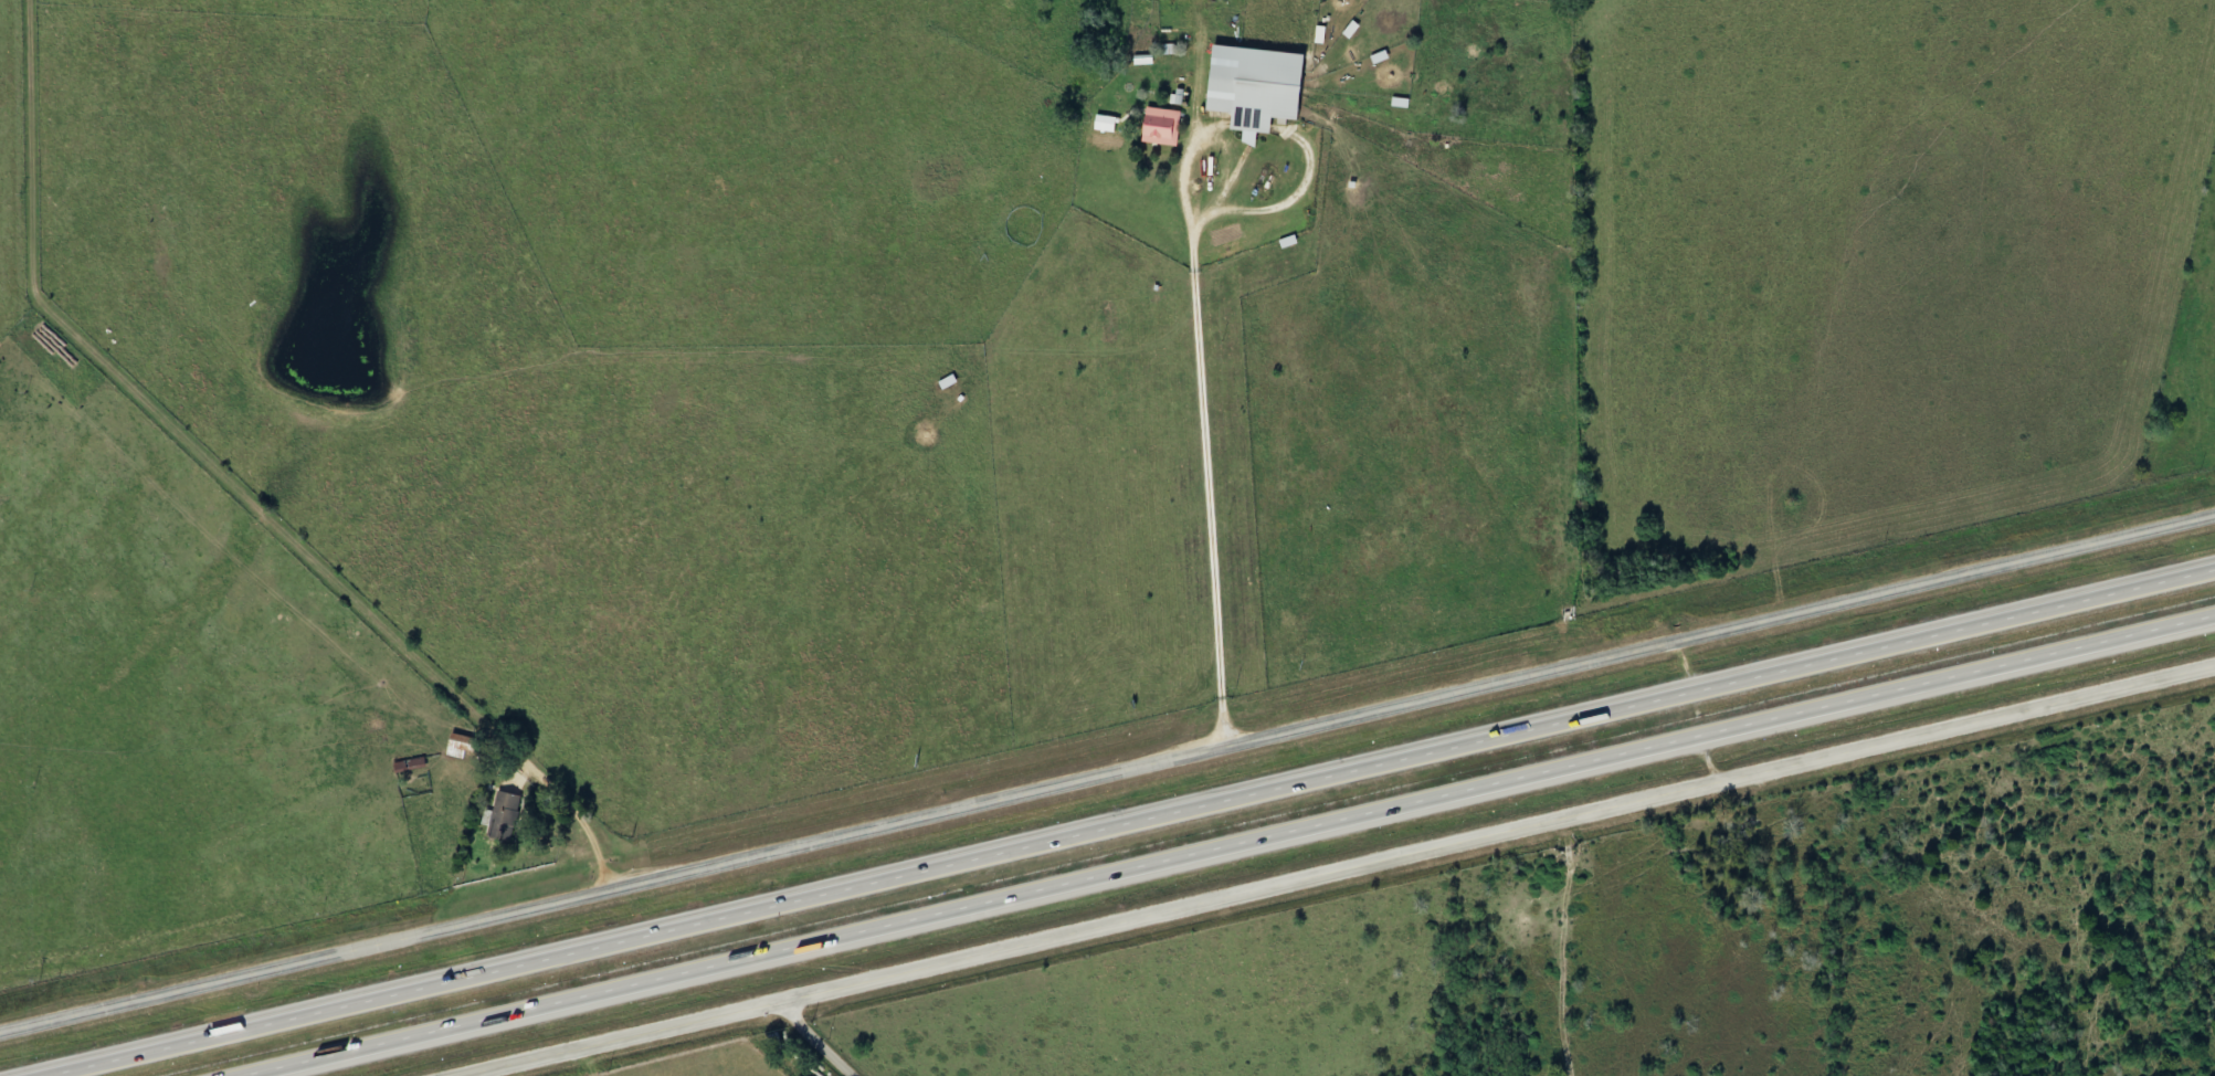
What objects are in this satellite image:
building: (1259, 87)
building: (1163, 127)
road: (1209, 433)
road: (226, 482)
building: (461, 747)
building: (411, 766)
road: (1106, 769)
building: (504, 817)
road: (1129, 822)
road: (1231, 846)
road: (1331, 871)
road: (814, 1037)

